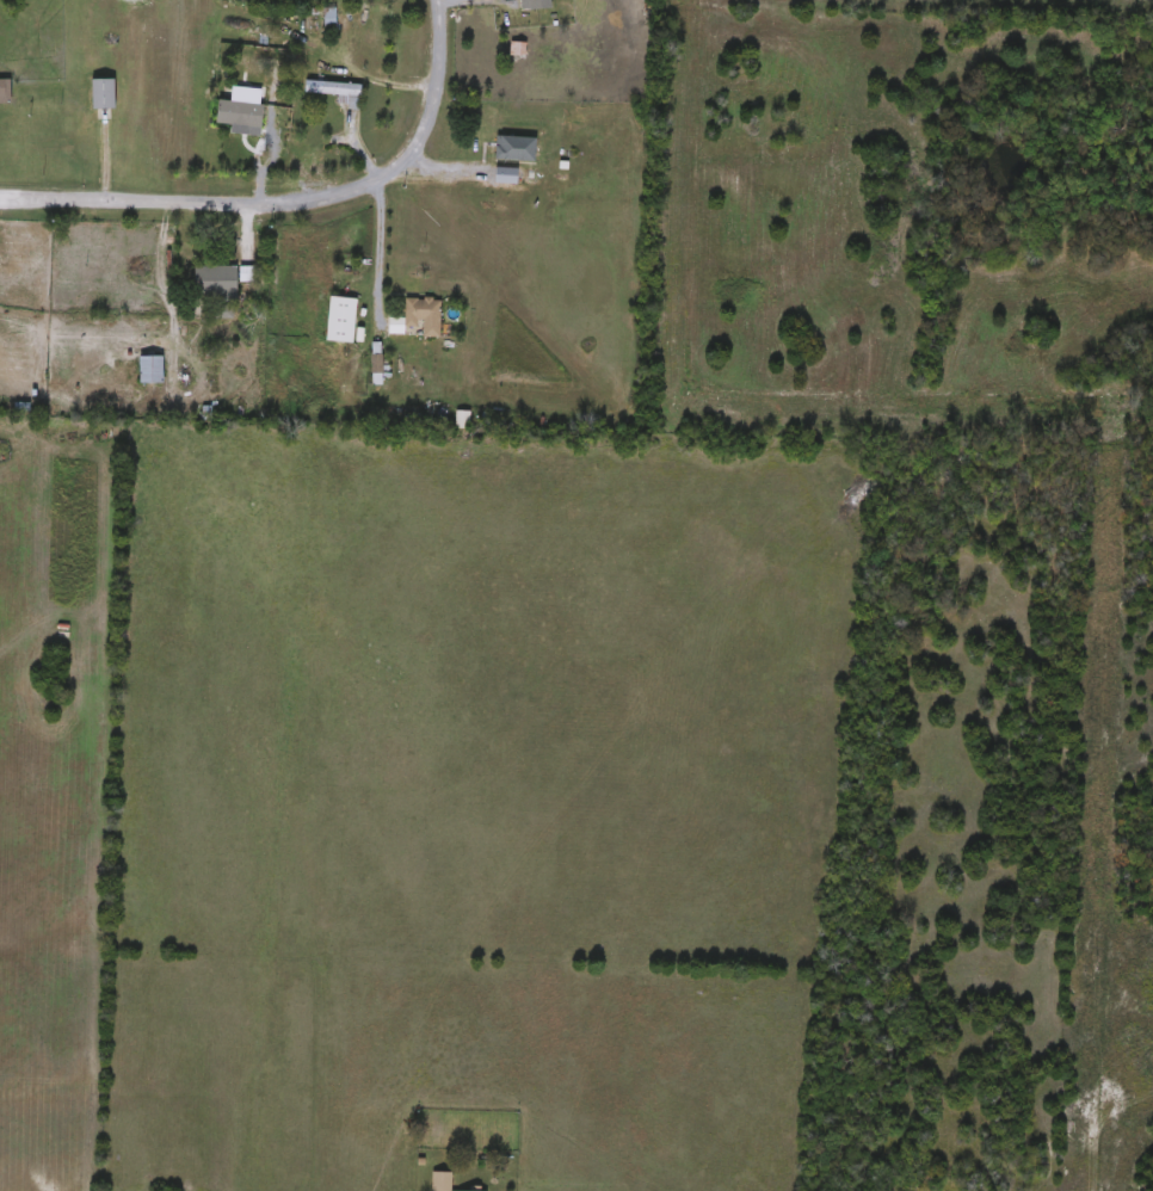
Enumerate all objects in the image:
building: (329, 20)
building: (337, 91)
building: (5, 92)
building: (104, 93)
building: (516, 147)
road: (280, 190)
road: (381, 237)
building: (217, 282)
building: (424, 315)
building: (343, 319)
building: (152, 369)
building: (440, 1181)

